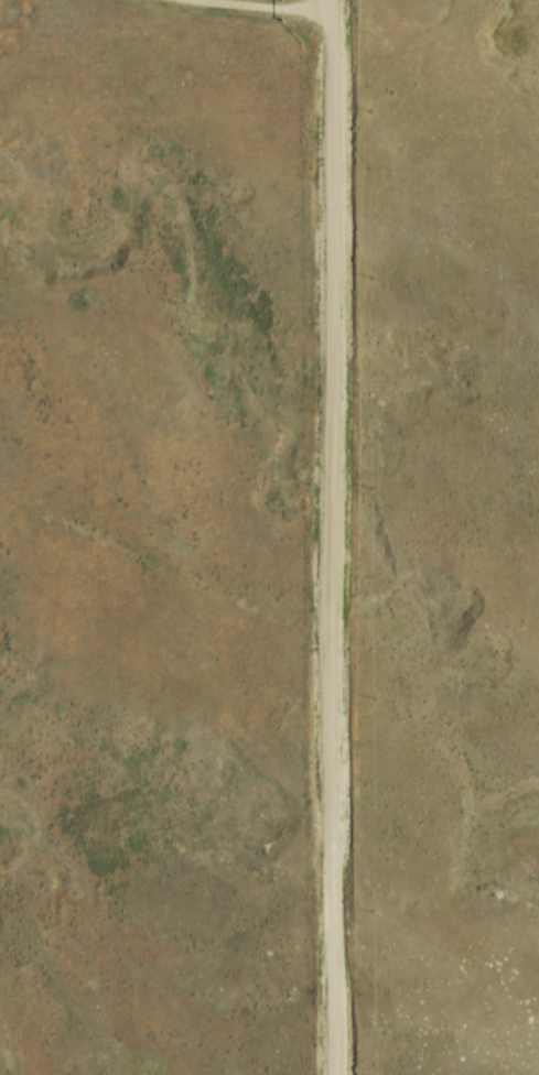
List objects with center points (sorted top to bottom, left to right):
road: (235, 13)
road: (319, 537)

